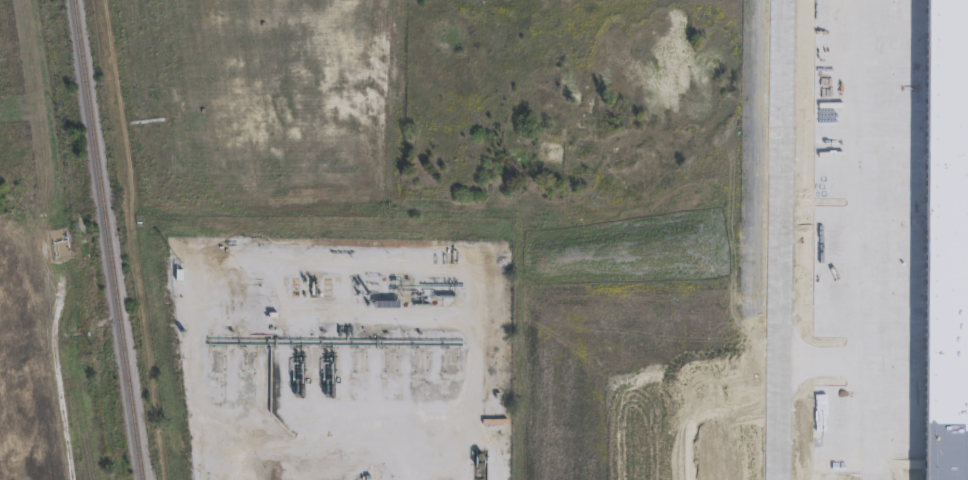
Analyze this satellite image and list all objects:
railway: (111, 239)

